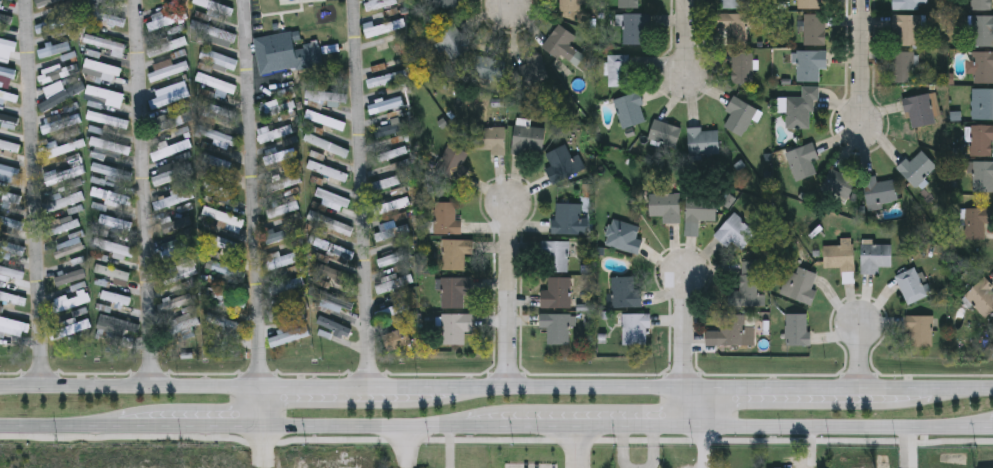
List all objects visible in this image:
building: (109, 0)
building: (152, 1)
building: (47, 2)
building: (448, 2)
building: (628, 3)
building: (730, 3)
building: (810, 3)
building: (379, 4)
road: (511, 4)
building: (907, 4)
building: (982, 4)
building: (570, 5)
building: (215, 6)
building: (106, 18)
building: (5, 19)
building: (166, 19)
building: (55, 21)
building: (734, 25)
building: (384, 28)
building: (636, 28)
building: (815, 28)
building: (906, 29)
building: (982, 30)
building: (214, 31)
road: (687, 37)
building: (452, 41)
building: (104, 43)
building: (8, 44)
building: (563, 45)
building: (167, 46)
building: (54, 49)
building: (285, 53)
building: (385, 53)
building: (219, 59)
road: (862, 62)
building: (810, 63)
building: (904, 66)
building: (103, 67)
building: (983, 67)
building: (741, 68)
building: (531, 70)
building: (618, 70)
building: (169, 71)
building: (488, 71)
building: (7, 72)
building: (386, 79)
building: (216, 83)
building: (105, 94)
building: (170, 94)
building: (9, 96)
building: (322, 97)
building: (59, 98)
building: (986, 103)
building: (386, 105)
building: (279, 106)
building: (629, 108)
building: (800, 109)
building: (919, 110)
building: (219, 113)
building: (740, 115)
building: (108, 119)
building: (8, 120)
building: (325, 120)
building: (61, 122)
building: (171, 123)
building: (390, 128)
building: (664, 132)
building: (274, 133)
building: (216, 135)
building: (527, 138)
building: (489, 139)
building: (981, 139)
building: (703, 140)
building: (324, 144)
building: (9, 146)
building: (66, 146)
building: (110, 146)
building: (171, 149)
building: (391, 151)
building: (281, 156)
building: (802, 160)
building: (218, 162)
building: (453, 162)
building: (560, 163)
building: (917, 167)
building: (327, 170)
building: (111, 171)
building: (173, 171)
building: (8, 173)
building: (63, 174)
building: (982, 175)
building: (284, 182)
building: (838, 184)
building: (219, 190)
building: (879, 190)
road: (34, 192)
road: (145, 192)
road: (364, 193)
building: (112, 195)
building: (10, 196)
building: (173, 198)
building: (330, 198)
building: (65, 199)
building: (395, 205)
building: (665, 205)
building: (282, 206)
building: (701, 207)
road: (254, 213)
building: (400, 217)
building: (567, 217)
building: (223, 218)
building: (446, 218)
building: (10, 221)
building: (976, 221)
building: (115, 222)
building: (331, 223)
building: (64, 224)
building: (176, 225)
building: (735, 231)
building: (392, 232)
building: (281, 234)
building: (223, 243)
building: (113, 247)
building: (11, 249)
building: (334, 250)
building: (176, 252)
building: (454, 253)
building: (554, 254)
building: (839, 256)
building: (875, 256)
building: (395, 258)
building: (284, 259)
building: (227, 270)
building: (112, 272)
building: (11, 273)
building: (335, 274)
building: (72, 276)
building: (177, 276)
building: (394, 282)
building: (799, 284)
building: (911, 284)
building: (287, 285)
building: (746, 285)
building: (454, 290)
building: (557, 292)
building: (625, 292)
road: (508, 296)
building: (981, 296)
building: (116, 297)
building: (12, 298)
building: (71, 301)
building: (331, 307)
building: (392, 310)
building: (119, 323)
building: (226, 323)
building: (334, 325)
building: (456, 326)
building: (555, 326)
building: (13, 327)
building: (633, 327)
building: (71, 329)
building: (734, 329)
building: (797, 329)
building: (919, 330)
building: (398, 338)
road: (683, 351)
road: (861, 357)
road: (496, 387)
road: (58, 428)
road: (189, 428)
road: (363, 428)
road: (573, 428)
road: (835, 428)
road: (991, 428)
road: (496, 440)
road: (577, 447)
road: (703, 447)
road: (408, 448)
road: (623, 448)
road: (653, 448)

